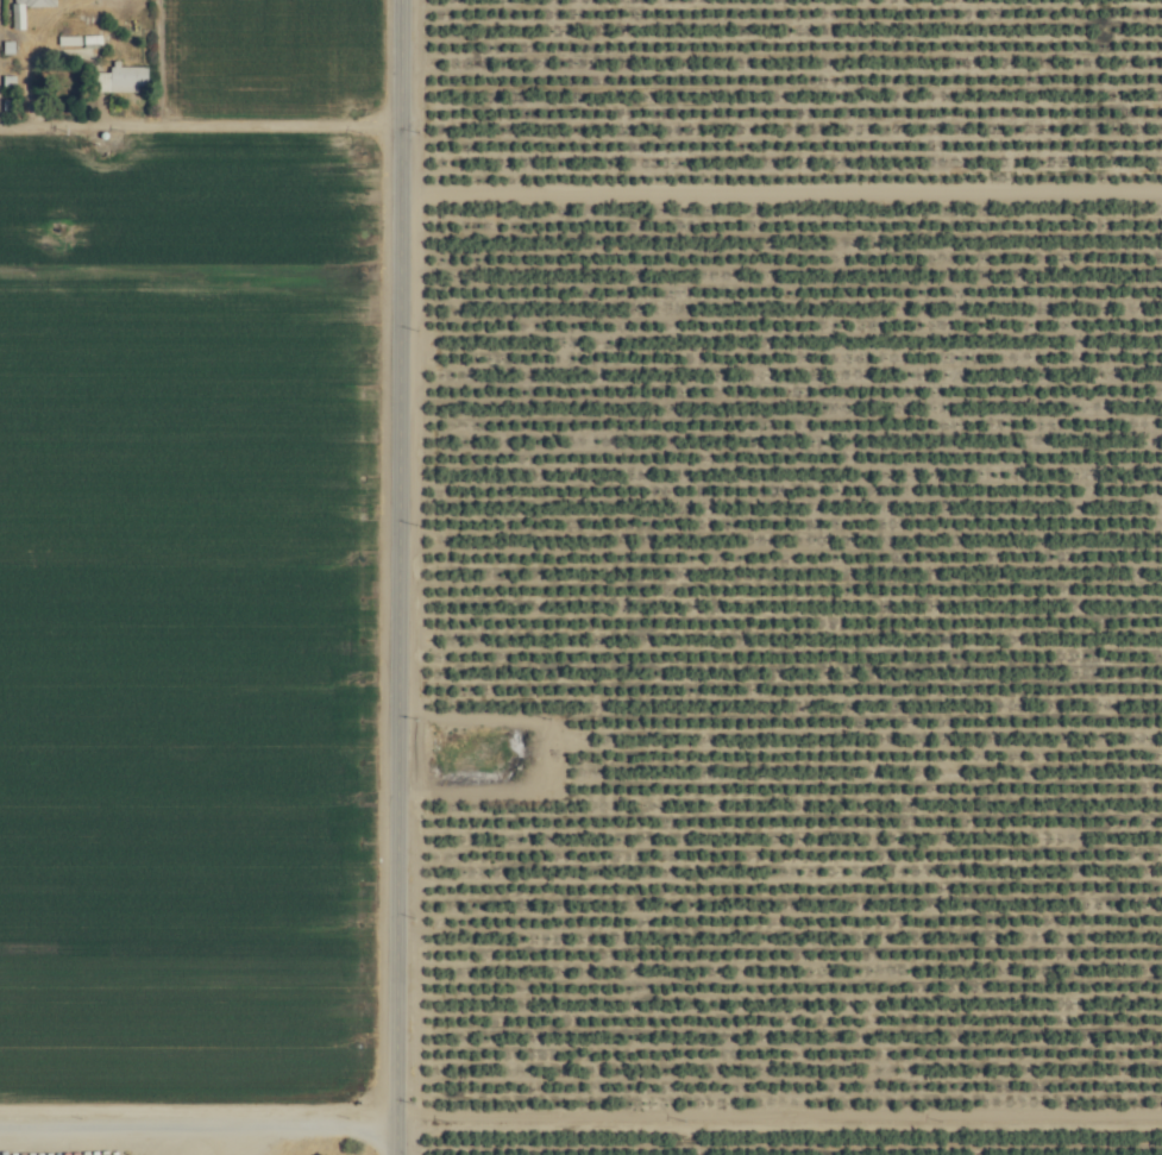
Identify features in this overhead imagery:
building: (17, 18)
building: (119, 79)
road: (203, 132)
road: (395, 553)
road: (190, 1106)
road: (381, 1131)

